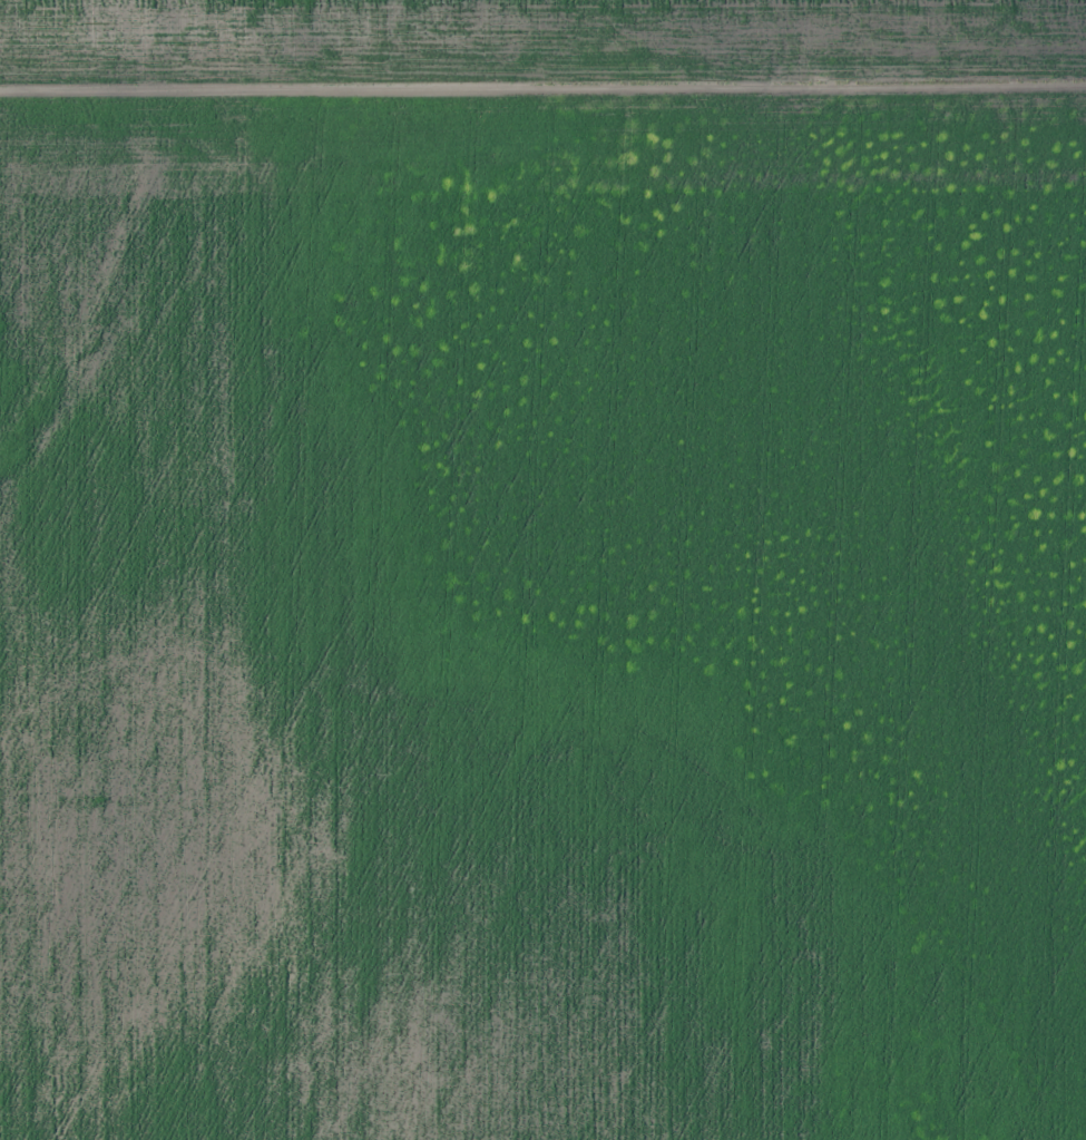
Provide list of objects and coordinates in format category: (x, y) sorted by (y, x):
road: (542, 100)

